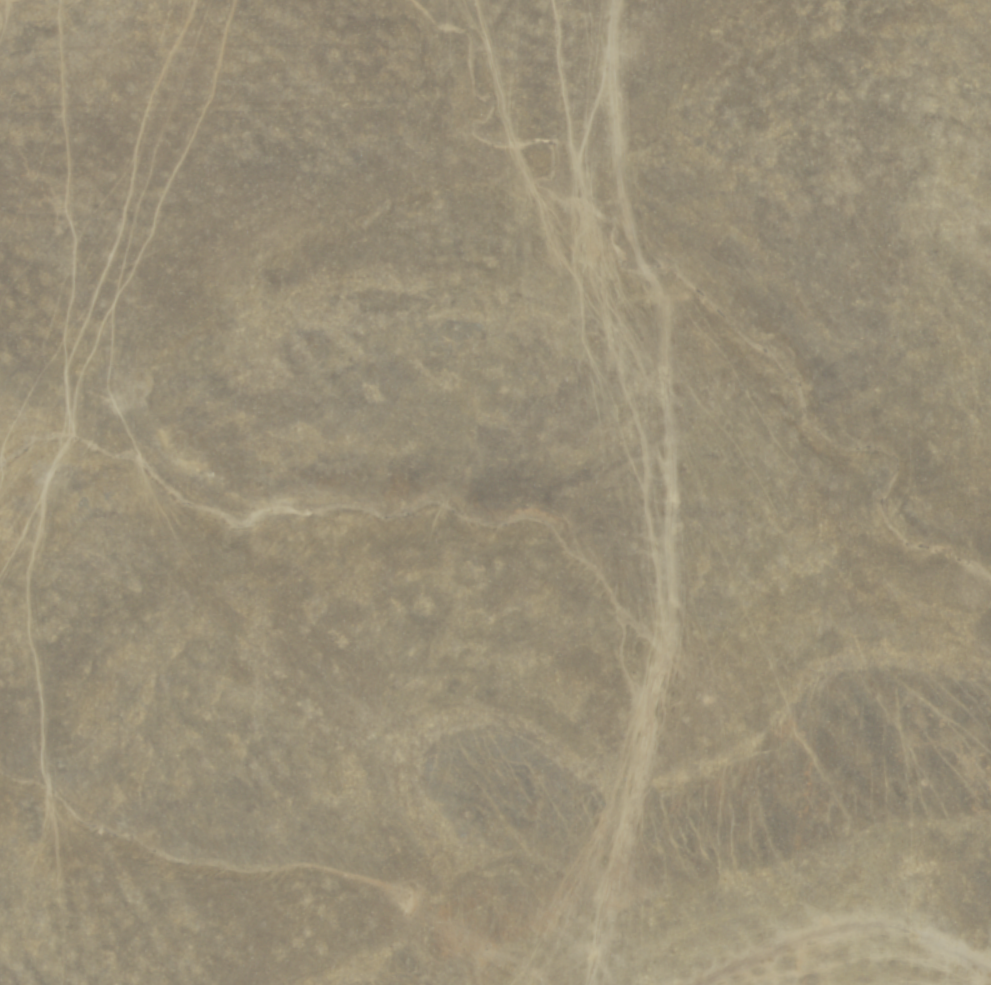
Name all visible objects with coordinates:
road: (671, 492)

